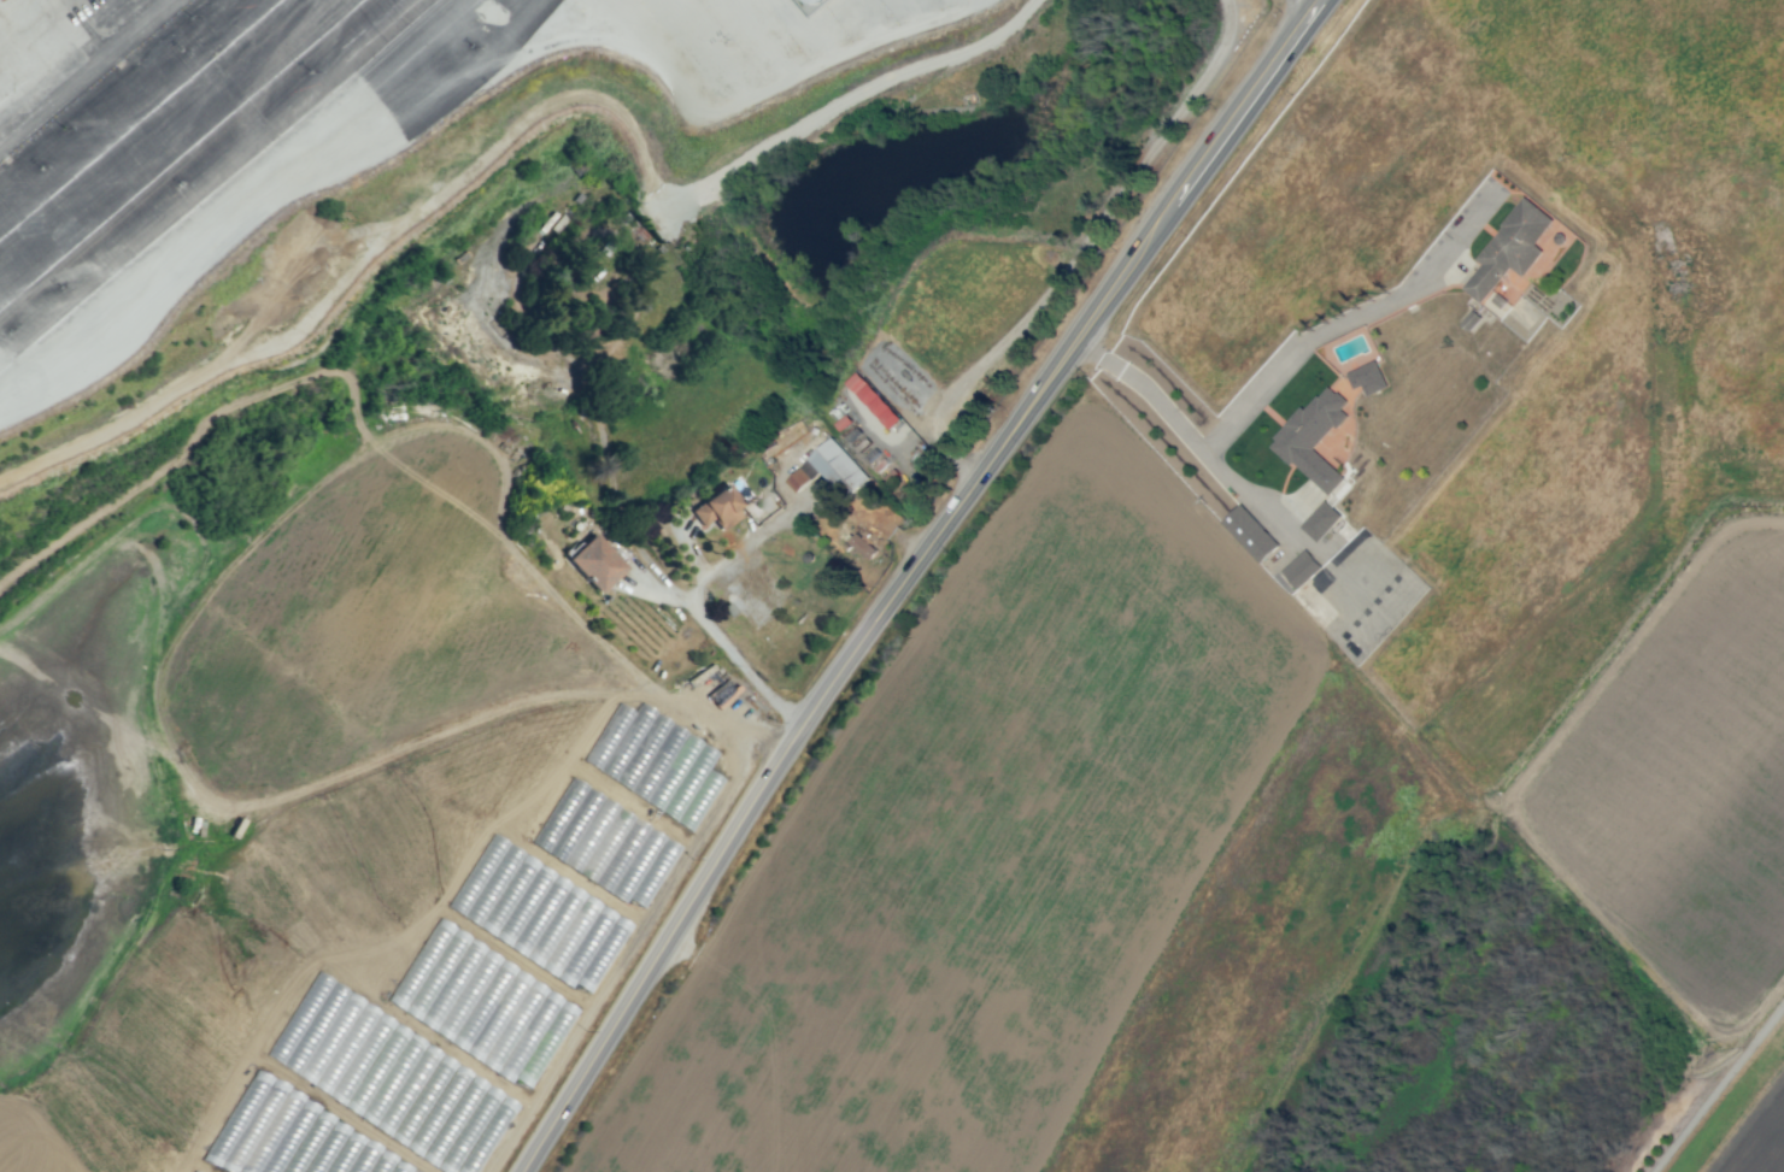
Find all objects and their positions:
road: (1749, 76)
building: (1510, 248)
road: (1350, 319)
building: (1368, 377)
building: (874, 399)
road: (1197, 435)
building: (1314, 437)
building: (833, 469)
building: (716, 507)
building: (1321, 520)
building: (1251, 532)
road: (756, 536)
road: (689, 552)
building: (593, 561)
building: (1302, 569)
road: (910, 579)
road: (694, 589)
road: (711, 638)
crop: (973, 690)
building: (655, 761)
building: (391, 1077)
road: (1715, 1086)

